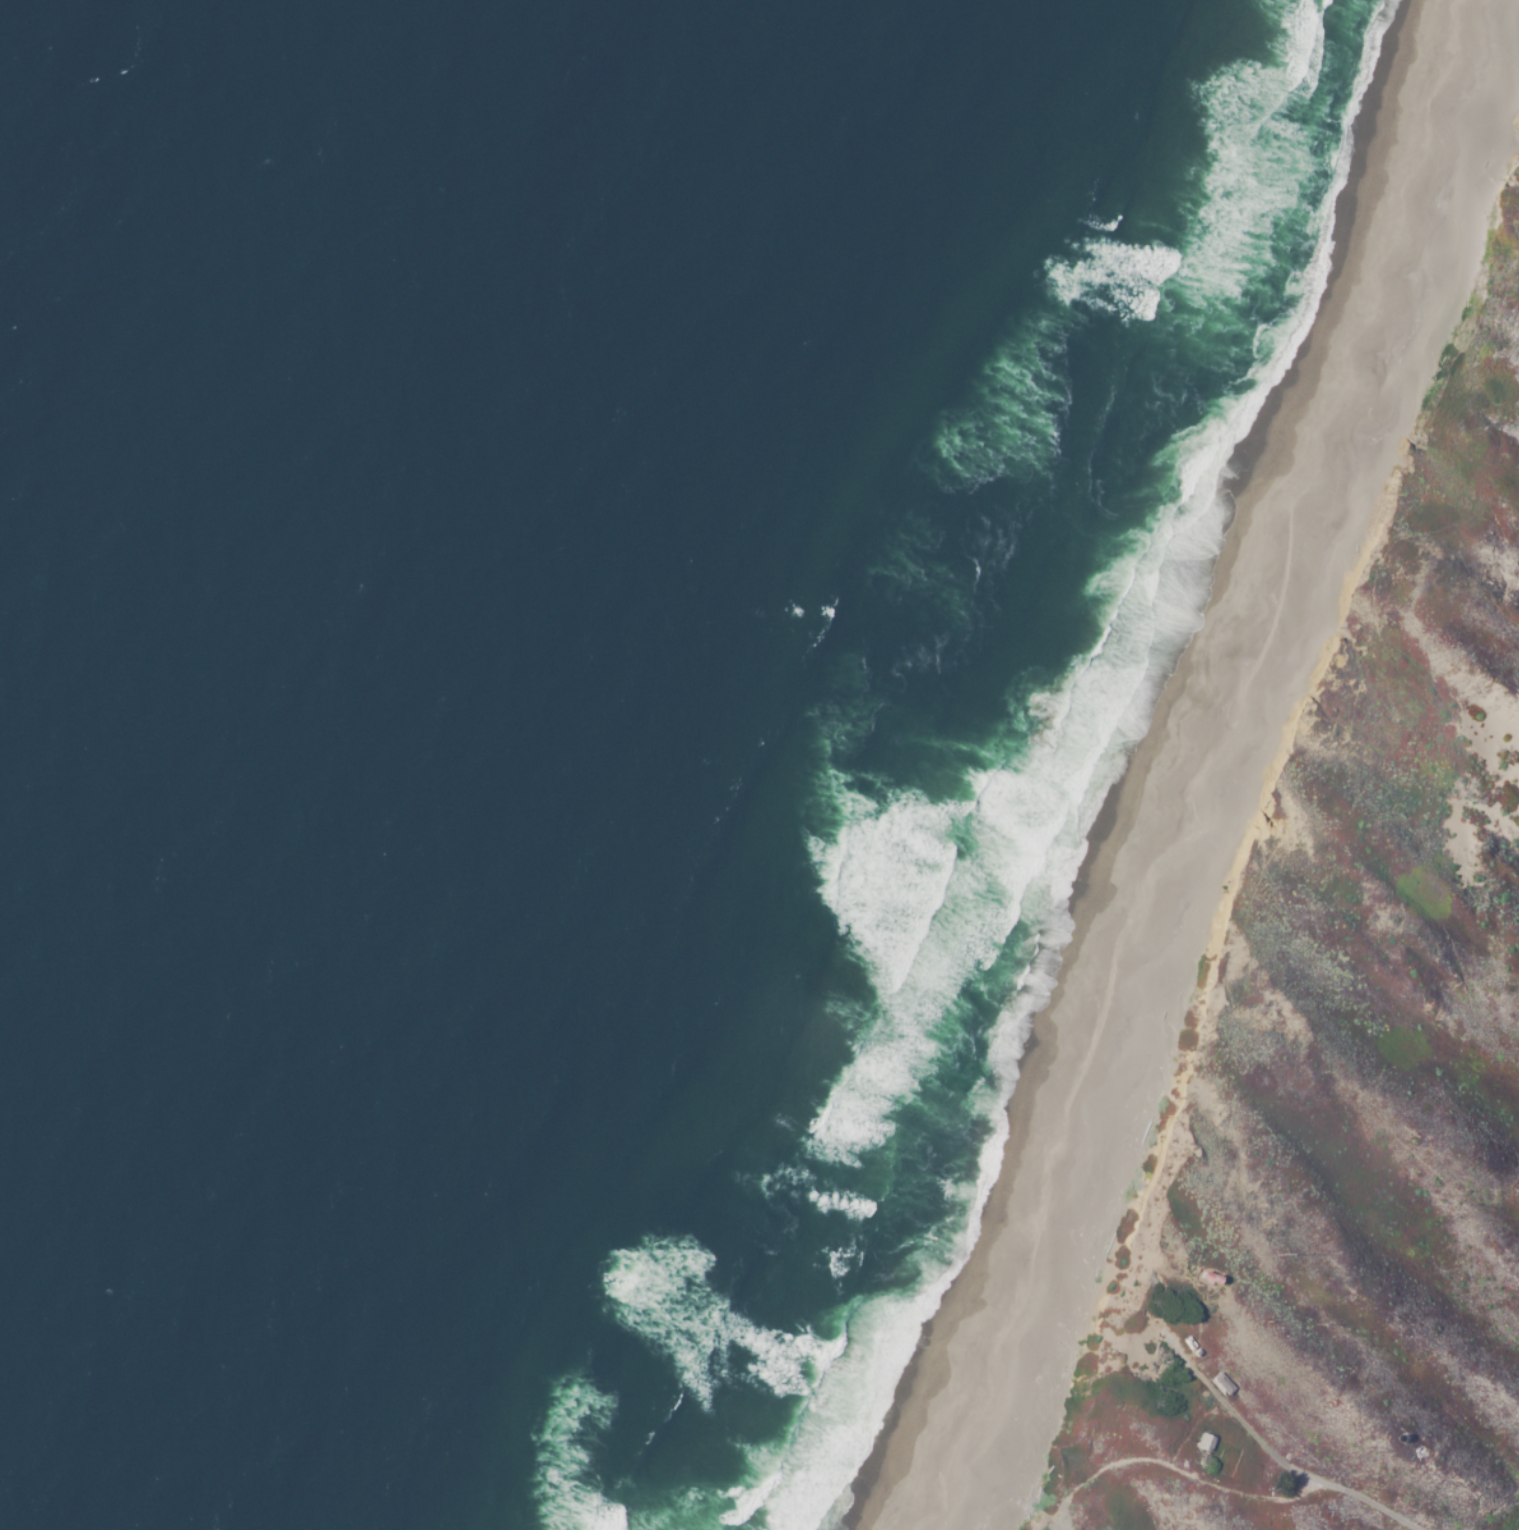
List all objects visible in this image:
road: (1291, 1470)

